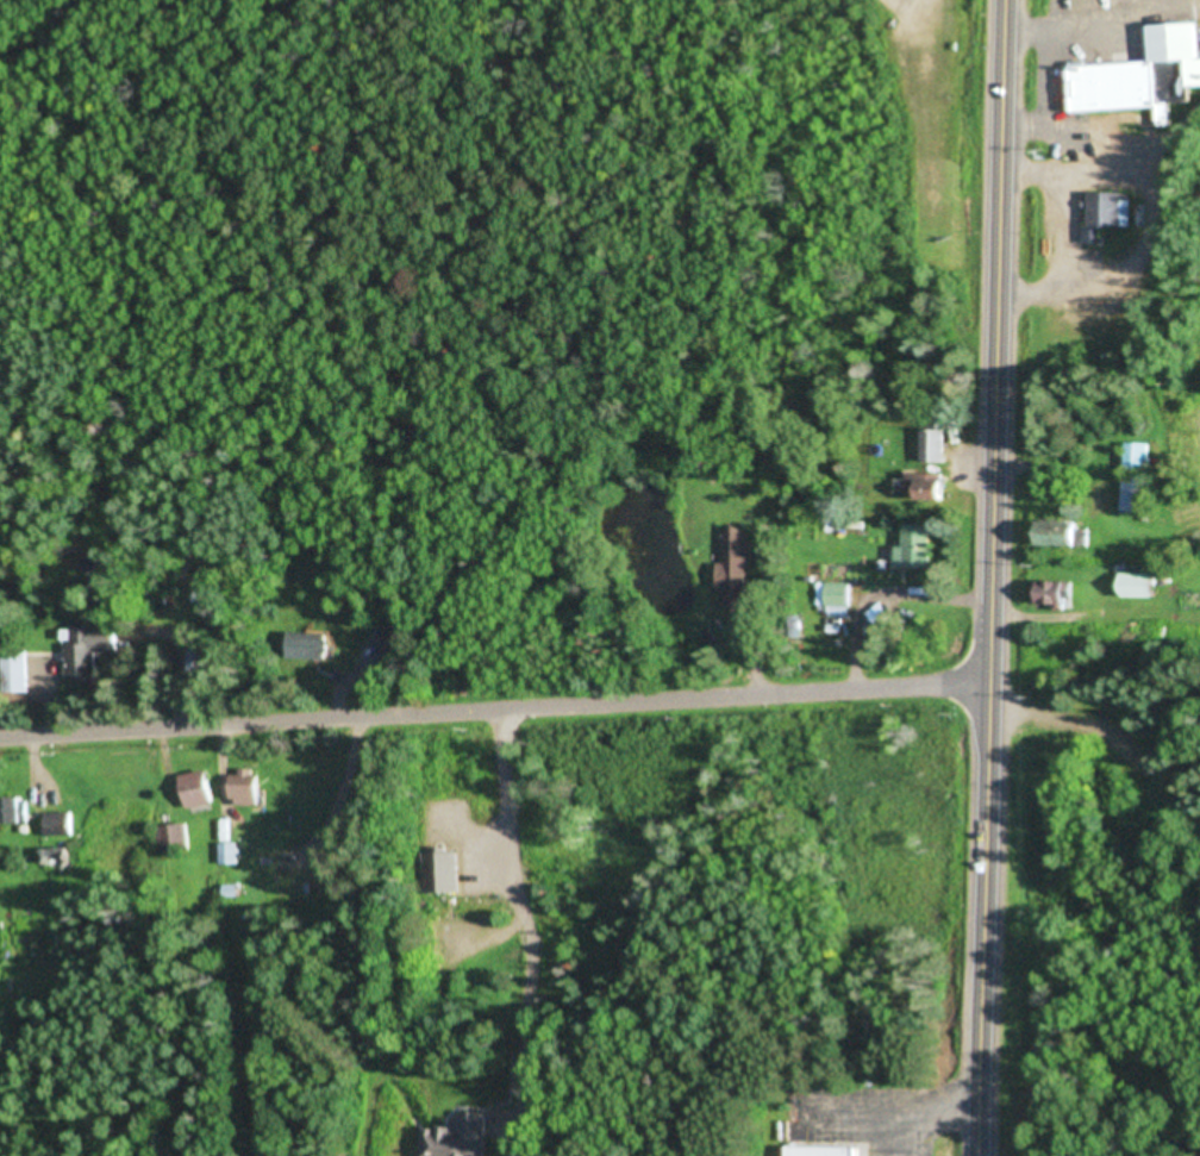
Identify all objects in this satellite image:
building: (1144, 77)
building: (1107, 215)
building: (933, 444)
building: (1140, 457)
building: (930, 487)
building: (1140, 494)
building: (1069, 535)
building: (915, 549)
building: (735, 570)
road: (992, 577)
building: (1142, 585)
building: (1055, 595)
building: (835, 600)
building: (389, 643)
building: (311, 646)
building: (88, 650)
building: (200, 658)
building: (15, 673)
road: (495, 716)
building: (249, 787)
building: (200, 791)
building: (15, 808)
building: (62, 823)
building: (174, 838)
building: (230, 854)
building: (60, 856)
building: (439, 870)
building: (461, 1137)
building: (829, 1149)

